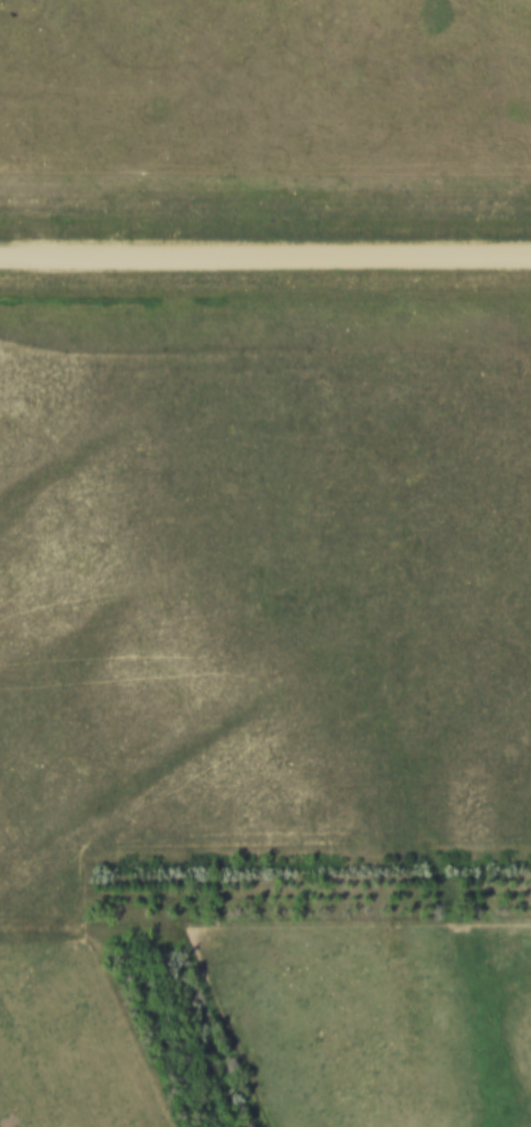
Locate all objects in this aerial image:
road: (265, 259)

